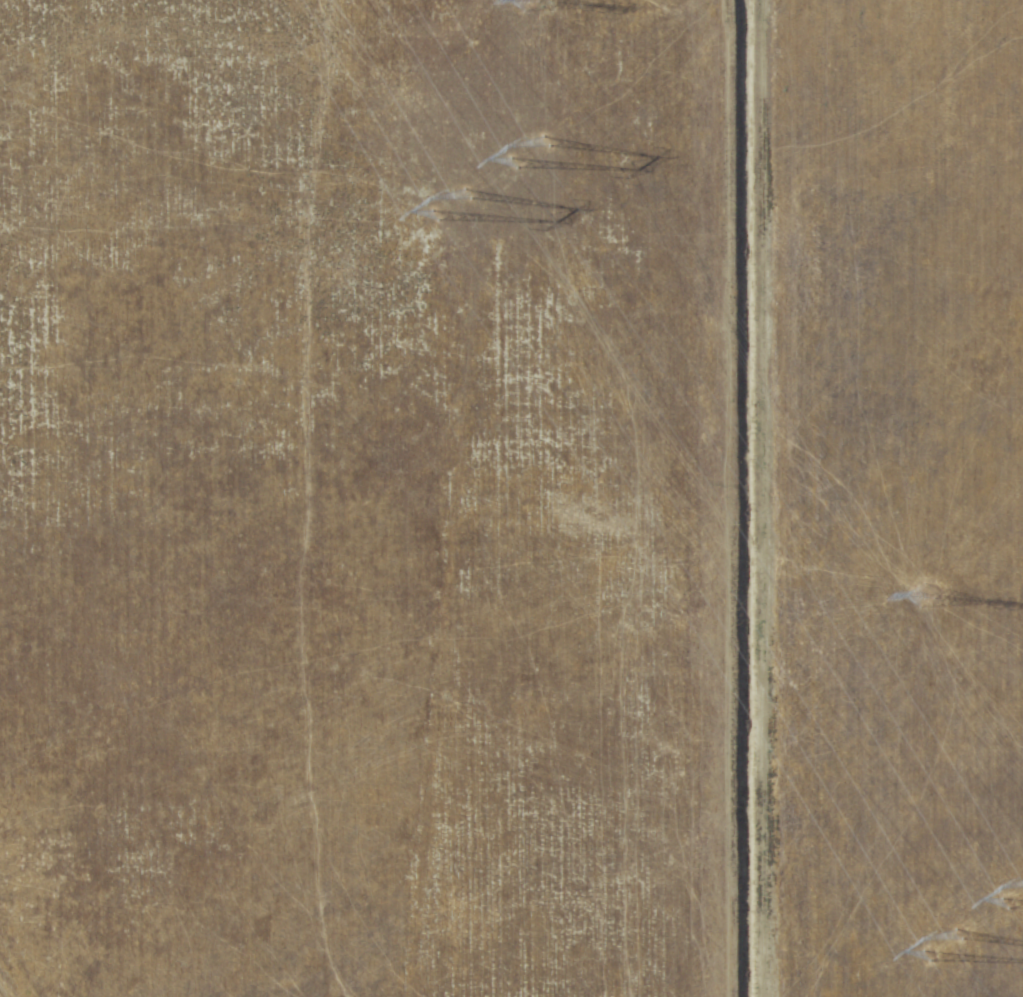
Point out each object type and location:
power tower: (526, 148)
power tower: (459, 212)
road: (748, 498)
power tower: (932, 594)
power tower: (1020, 894)
power tower: (952, 959)
road: (9, 982)

